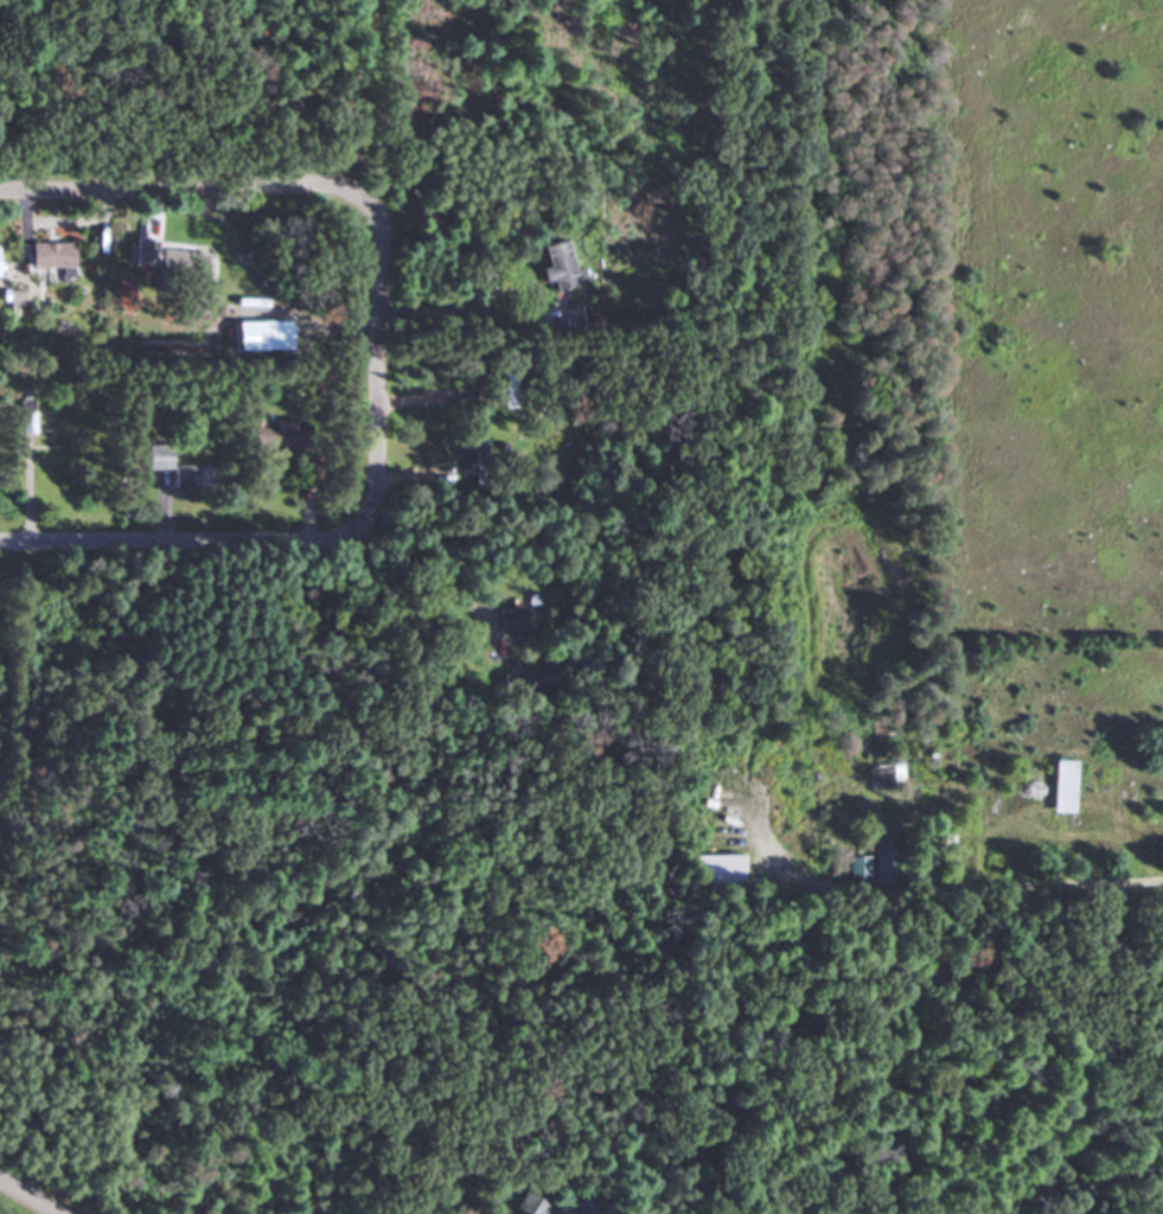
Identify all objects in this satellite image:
building: (140, 254)
building: (44, 256)
building: (554, 266)
road: (373, 363)
building: (511, 403)
building: (275, 433)
building: (60, 441)
building: (478, 453)
building: (171, 467)
building: (509, 619)
building: (532, 682)
building: (1059, 786)
building: (874, 864)
building: (716, 869)
road: (1059, 883)
road: (25, 1199)
building: (518, 1205)

